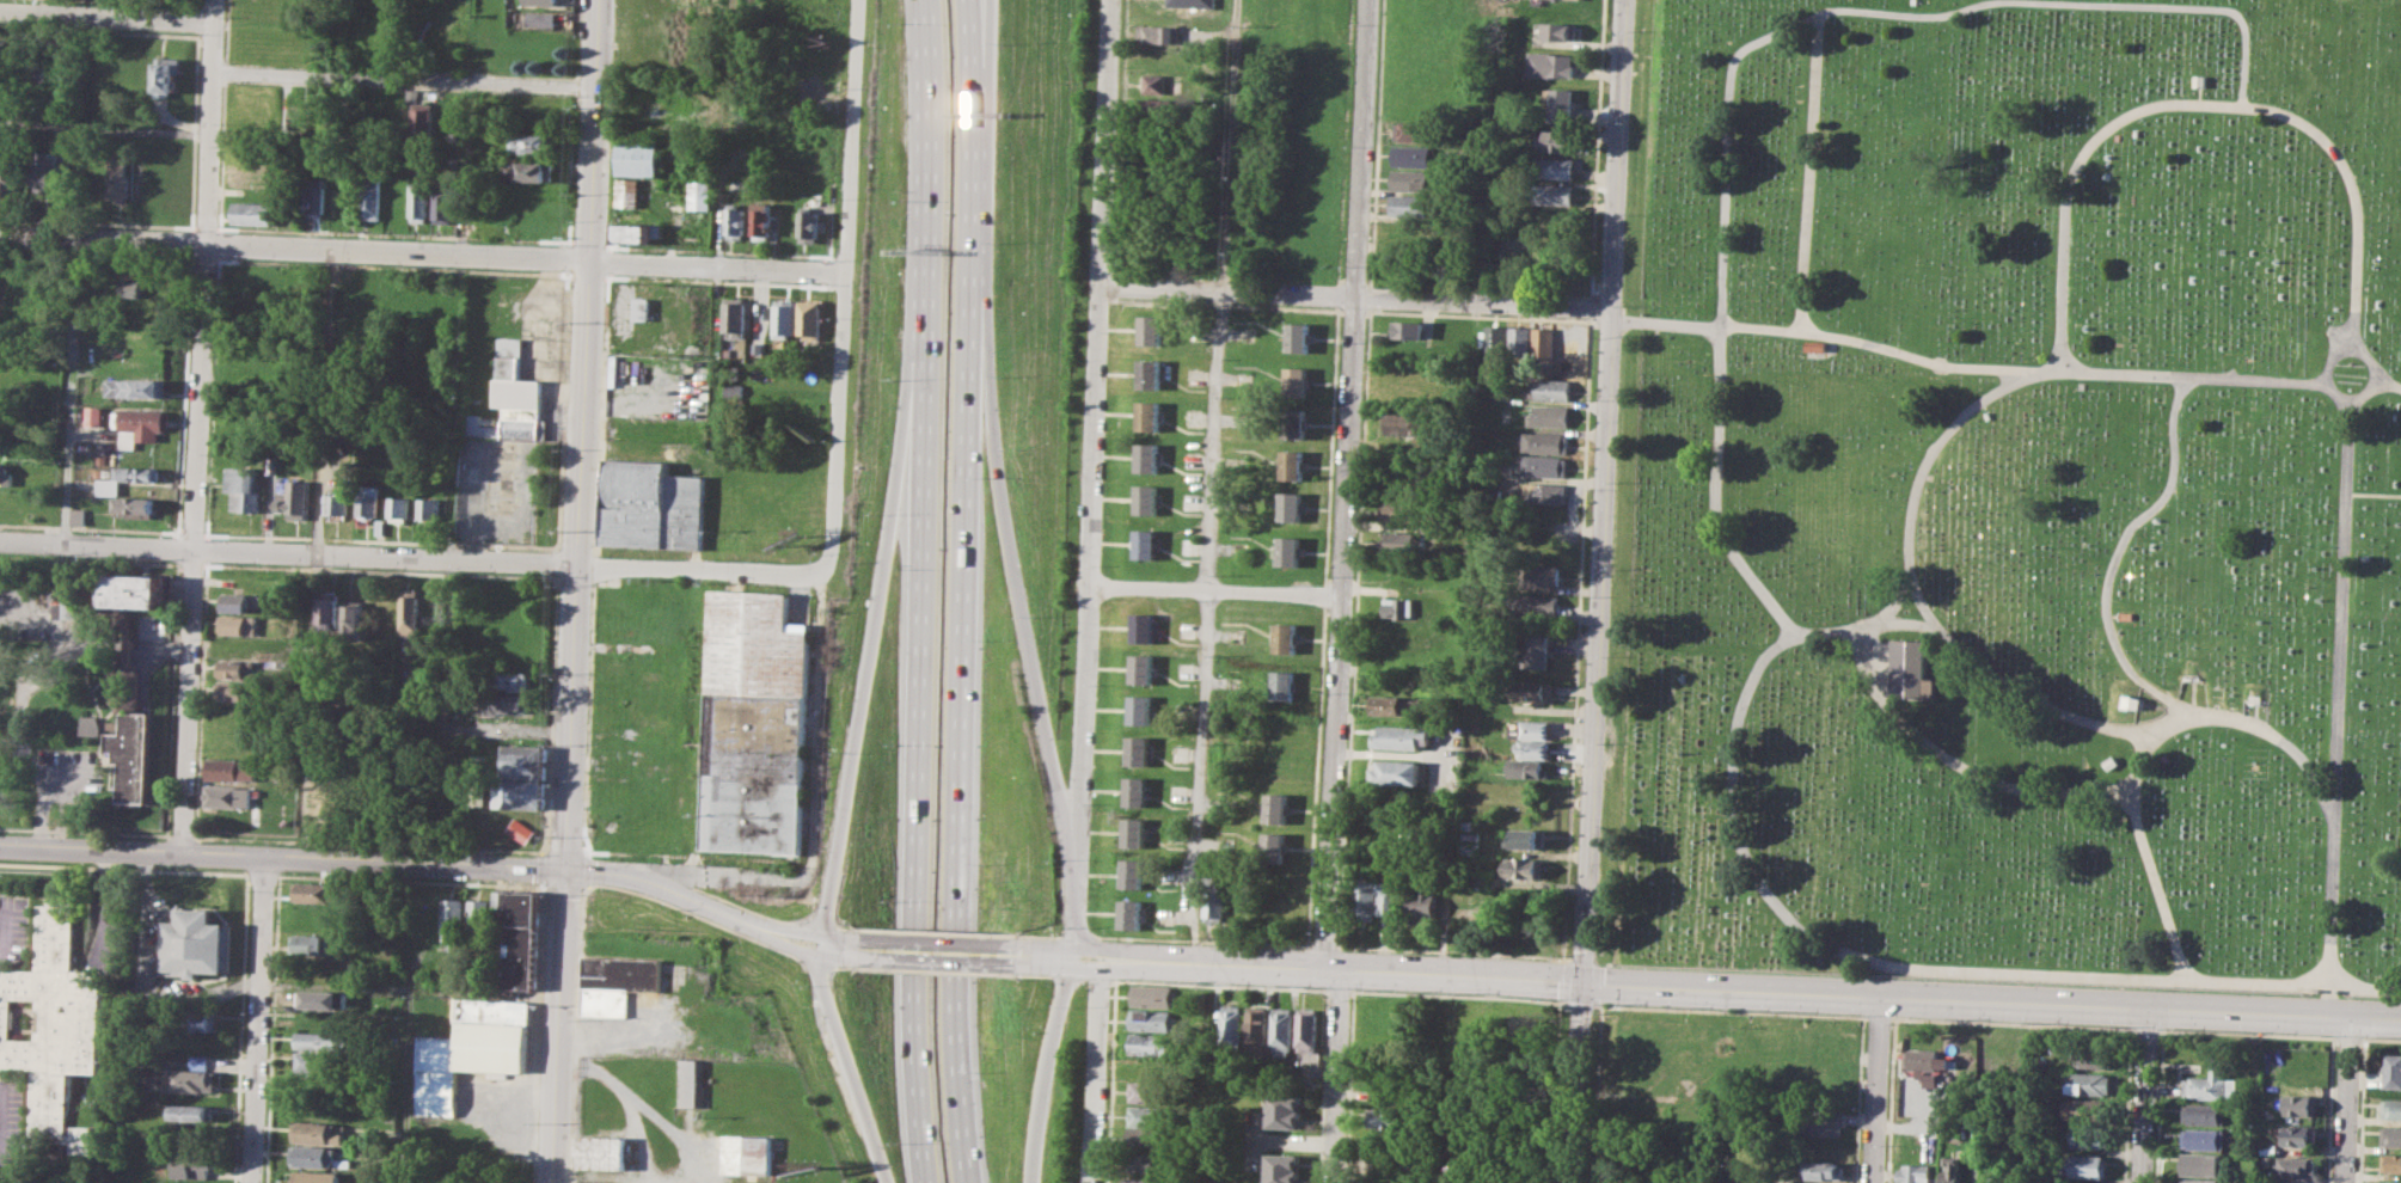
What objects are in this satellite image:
building: (540, 2)
building: (1193, 2)
road: (2114, 2)
road: (973, 4)
road: (974, 4)
road: (106, 14)
building: (539, 19)
building: (1558, 30)
building: (1157, 33)
building: (1551, 65)
building: (167, 73)
road: (405, 81)
building: (1156, 84)
building: (1562, 105)
building: (304, 117)
building: (398, 119)
building: (423, 121)
building: (449, 122)
road: (105, 127)
building: (1411, 129)
building: (1552, 139)
building: (532, 142)
road: (1229, 145)
building: (1411, 154)
building: (636, 158)
building: (252, 165)
building: (1554, 167)
building: (47, 168)
building: (526, 171)
building: (11, 176)
building: (120, 179)
building: (1410, 179)
road: (969, 184)
building: (626, 191)
building: (1554, 194)
building: (698, 195)
building: (314, 197)
building: (372, 197)
building: (418, 202)
building: (442, 202)
building: (1410, 204)
building: (252, 212)
road: (2356, 214)
road: (926, 216)
building: (760, 220)
building: (733, 221)
building: (807, 223)
building: (637, 232)
road: (422, 253)
building: (136, 286)
road: (844, 292)
road: (1353, 295)
building: (641, 307)
building: (733, 318)
building: (782, 318)
building: (808, 318)
building: (1153, 329)
building: (1407, 329)
building: (1298, 337)
building: (1495, 342)
building: (1520, 342)
building: (1543, 344)
road: (2368, 350)
road: (2370, 360)
building: (1150, 373)
building: (1410, 375)
road: (2283, 379)
building: (1297, 381)
building: (6, 382)
building: (135, 387)
building: (1549, 388)
road: (2371, 390)
building: (508, 397)
building: (94, 415)
building: (1149, 416)
building: (1548, 416)
building: (1294, 422)
building: (1402, 422)
building: (137, 424)
road: (197, 425)
building: (5, 442)
building: (1544, 442)
building: (1147, 456)
building: (103, 458)
building: (1293, 464)
building: (1543, 466)
road: (1921, 468)
building: (6, 474)
building: (128, 477)
road: (1092, 478)
road: (1346, 483)
road: (67, 488)
building: (241, 488)
building: (1544, 492)
park: (2009, 495)
building: (367, 498)
building: (1147, 498)
building: (293, 499)
building: (336, 503)
building: (650, 505)
building: (1292, 505)
building: (133, 507)
building: (397, 508)
building: (428, 508)
building: (1404, 510)
building: (78, 516)
building: (379, 526)
building: (1404, 540)
building: (1146, 543)
building: (1290, 551)
road: (2119, 557)
road: (411, 559)
building: (1536, 575)
building: (133, 590)
road: (576, 590)
road: (1598, 590)
road: (1215, 591)
building: (69, 601)
road: (1894, 601)
building: (237, 602)
road: (1772, 605)
building: (1532, 606)
building: (1397, 608)
building: (329, 613)
building: (411, 613)
road: (1023, 614)
building: (355, 623)
building: (239, 625)
road: (1205, 625)
building: (1143, 626)
building: (1287, 637)
building: (755, 643)
building: (1535, 649)
building: (1141, 668)
building: (239, 669)
building: (1906, 669)
building: (515, 680)
building: (1284, 685)
building: (1529, 688)
road: (863, 689)
building: (238, 691)
building: (507, 703)
building: (1395, 704)
building: (1139, 710)
building: (90, 725)
building: (1532, 728)
building: (1403, 736)
building: (1530, 748)
building: (1139, 749)
building: (131, 753)
building: (1525, 768)
building: (233, 770)
building: (753, 772)
road: (957, 772)
building: (1397, 772)
building: (522, 776)
road: (1995, 781)
building: (1135, 791)
building: (231, 796)
building: (1278, 808)
road: (915, 809)
building: (1469, 823)
street lamp: (192, 830)
building: (1134, 830)
road: (85, 832)
street lamp: (26, 834)
road: (180, 836)
building: (529, 836)
building: (1470, 836)
street lamp: (115, 838)
building: (1525, 838)
street lamp: (201, 841)
street lamp: (274, 844)
road: (369, 844)
building: (1275, 846)
street lamp: (365, 848)
building: (1470, 848)
road: (564, 851)
street lamp: (448, 852)
road: (305, 858)
street lamp: (792, 866)
building: (1523, 868)
building: (1133, 872)
road: (2150, 872)
street lamp: (711, 875)
street lamp: (250, 889)
building: (314, 893)
street lamp: (545, 894)
building: (1218, 900)
building: (1367, 900)
building: (1395, 900)
building: (1427, 901)
road: (747, 906)
street lamp: (670, 908)
road: (717, 911)
building: (1132, 913)
building: (478, 915)
street lamp: (779, 915)
building: (451, 920)
road: (819, 924)
road: (6, 926)
parking lot: (14, 926)
street lamp: (1090, 926)
road: (849, 927)
road: (942, 931)
street lamp: (964, 931)
road: (1041, 934)
building: (517, 936)
road: (1076, 936)
road: (1201, 940)
building: (192, 942)
building: (310, 944)
road: (1324, 944)
road: (846, 950)
road: (1453, 950)
road: (944, 952)
road: (1925, 967)
street lamp: (865, 970)
street lamp: (1024, 977)
street lamp: (1117, 977)
traffic signals: (1584, 979)
road: (1564, 980)
building: (617, 982)
street lamp: (1211, 982)
road: (1710, 983)
street lamp: (808, 985)
street lamp: (1305, 986)
street lamp: (1109, 987)
street lamp: (1367, 988)
street lamp: (1462, 992)
building: (1153, 995)
street lamp: (1542, 998)
building: (320, 999)
street lamp: (1350, 999)
road: (1564, 1003)
street lamp: (1605, 1003)
road: (1580, 1004)
street lamp: (1070, 1005)
street lamp: (1677, 1006)
street lamp: (1769, 1010)
road: (1729, 1011)
street lamp: (1860, 1013)
street lamp: (1592, 1016)
road: (1878, 1017)
street lamp: (1953, 1018)
building: (201, 1019)
road: (257, 1019)
street lamp: (576, 1019)
building: (1153, 1019)
street lamp: (2028, 1022)
street lamp: (1891, 1023)
road: (2011, 1023)
building: (55, 1024)
building: (1233, 1025)
street lamp: (2117, 1025)
street lamp: (2166, 1026)
building: (1310, 1029)
road: (2145, 1029)
building: (1258, 1030)
building: (1284, 1030)
street lamp: (2247, 1030)
road: (2247, 1034)
street lamp: (2329, 1034)
street lamp: (2374, 1036)
road: (2348, 1037)
road: (2381, 1038)
building: (319, 1040)
building: (1152, 1043)
building: (472, 1048)
street lamp: (2360, 1050)
building: (2093, 1055)
building: (1923, 1059)
building: (2273, 1059)
building: (317, 1062)
road: (851, 1066)
road: (1045, 1068)
road: (1097, 1071)
building: (2393, 1071)
road: (1336, 1075)
building: (189, 1080)
building: (690, 1083)
building: (2212, 1083)
building: (2090, 1084)
road: (1878, 1086)
road: (404, 1087)
building: (1149, 1091)
road: (2145, 1092)
road: (2346, 1096)
building: (2302, 1103)
building: (2391, 1107)
building: (2085, 1108)
building: (1286, 1109)
building: (190, 1114)
building: (2204, 1114)
building: (1147, 1116)
building: (1386, 1118)
road: (2, 1120)
parking lot: (11, 1121)
building: (1825, 1121)
building: (318, 1132)
building: (2391, 1134)
building: (2298, 1135)
building: (1146, 1136)
building: (2090, 1136)
building: (2204, 1139)
building: (2268, 1148)
building: (601, 1152)
building: (746, 1153)
building: (318, 1157)
building: (191, 1161)
building: (1146, 1163)
building: (1667, 1163)
building: (2390, 1163)
building: (2201, 1164)
building: (2085, 1165)
building: (1284, 1167)
building: (2295, 1167)
building: (1825, 1170)
building: (1953, 1170)
building: (1388, 1172)
building: (1916, 1172)
building: (316, 1176)
building: (1145, 1179)
building: (2199, 1181)
building: (581, 1182)
building: (1805, 1182)
building: (2389, 1182)

